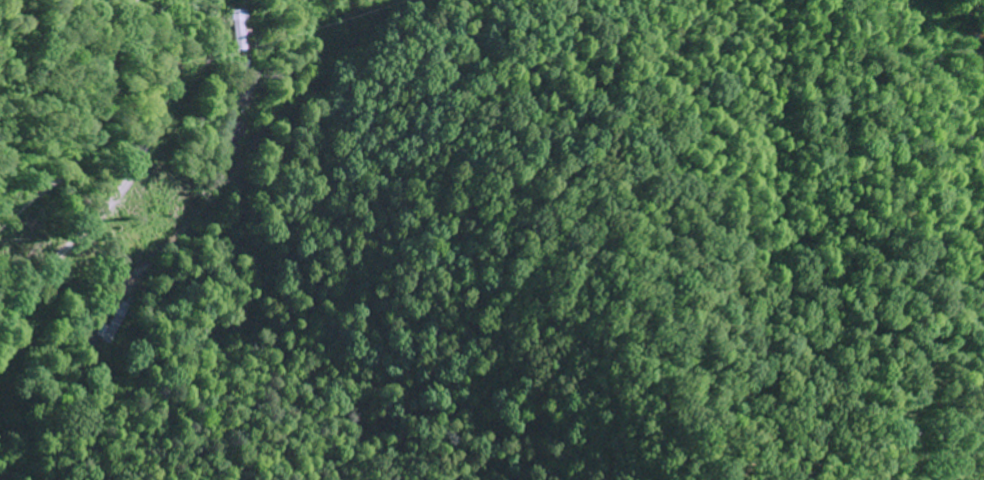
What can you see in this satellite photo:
road: (134, 172)

